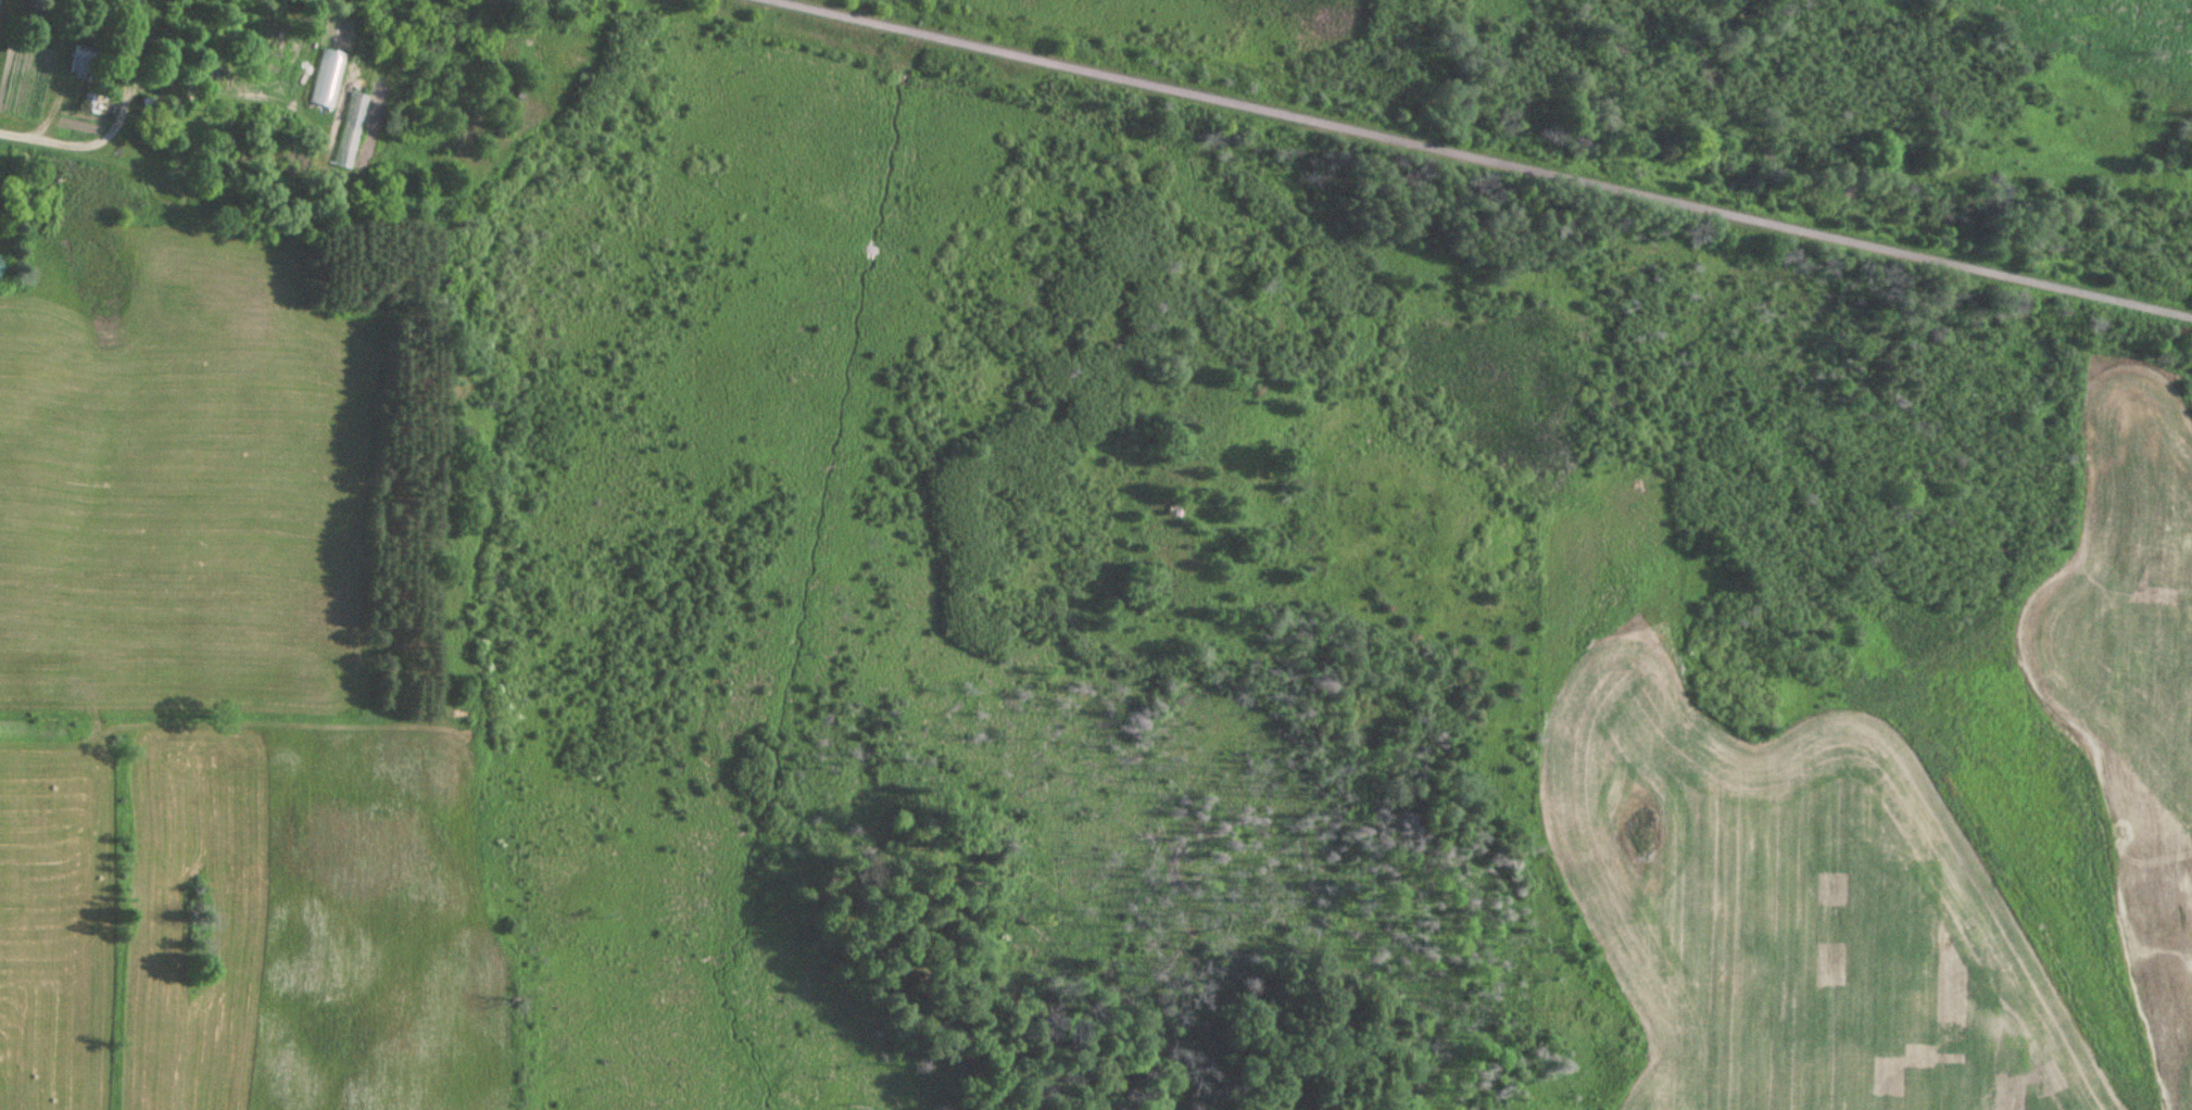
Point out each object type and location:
building: (76, 60)
road: (1479, 157)

